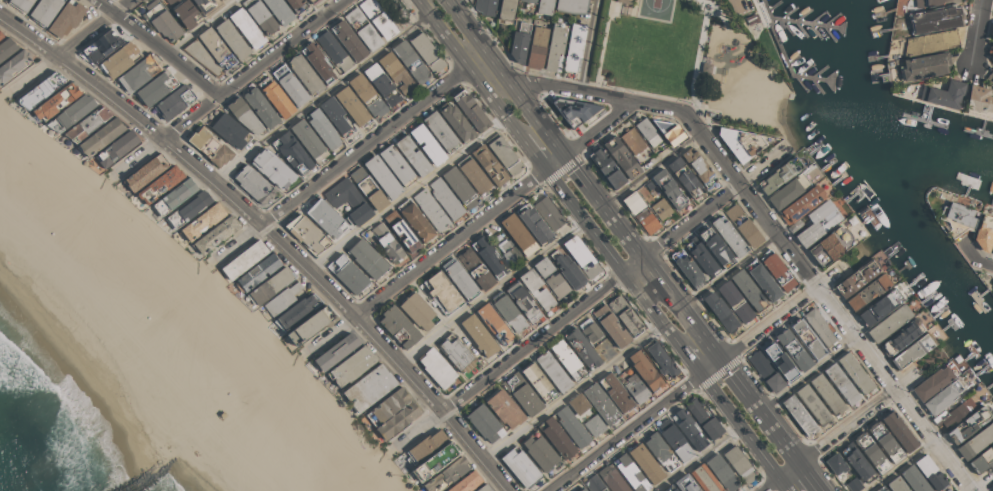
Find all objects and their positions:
building: (5, 0)
building: (311, 1)
building: (625, 1)
building: (930, 3)
building: (20, 4)
building: (529, 4)
building: (203, 5)
building: (297, 5)
building: (571, 6)
building: (486, 7)
building: (544, 7)
park: (656, 8)
building: (279, 10)
building: (506, 10)
building: (44, 11)
road: (624, 11)
building: (185, 12)
building: (260, 15)
building: (66, 18)
building: (378, 18)
road: (656, 19)
building: (751, 19)
building: (935, 19)
building: (162, 20)
road: (94, 27)
road: (201, 27)
building: (246, 27)
building: (362, 28)
building: (991, 32)
road: (445, 33)
road: (973, 33)
building: (1, 34)
building: (232, 39)
building: (348, 40)
building: (519, 41)
building: (930, 42)
road: (588, 45)
building: (100, 46)
building: (6, 47)
road: (159, 47)
building: (536, 47)
building: (555, 47)
building: (574, 47)
building: (216, 48)
building: (333, 50)
park: (673, 51)
building: (990, 51)
building: (427, 52)
pier: (790, 52)
building: (201, 56)
building: (119, 59)
road: (480, 60)
building: (317, 61)
building: (411, 61)
building: (13, 64)
building: (923, 66)
road: (723, 69)
road: (254, 70)
building: (396, 72)
road: (81, 73)
building: (138, 73)
building: (304, 73)
road: (37, 74)
road: (506, 77)
building: (990, 77)
road: (588, 81)
building: (290, 84)
building: (381, 84)
building: (156, 87)
building: (40, 89)
road: (569, 89)
building: (943, 94)
building: (367, 95)
road: (658, 95)
building: (276, 96)
road: (323, 96)
building: (56, 100)
building: (174, 101)
building: (979, 101)
road: (494, 102)
building: (352, 106)
building: (261, 107)
building: (471, 110)
building: (573, 110)
building: (71, 112)
building: (244, 115)
building: (335, 115)
building: (456, 121)
building: (87, 124)
road: (596, 127)
building: (229, 129)
building: (323, 129)
building: (440, 131)
building: (670, 131)
building: (647, 132)
building: (101, 136)
building: (309, 140)
building: (632, 140)
building: (742, 142)
building: (427, 144)
building: (210, 146)
road: (367, 146)
building: (117, 148)
building: (292, 152)
road: (533, 152)
road: (138, 154)
building: (412, 155)
building: (505, 155)
building: (621, 156)
road: (554, 162)
building: (489, 164)
building: (397, 165)
building: (606, 166)
building: (699, 167)
building: (273, 168)
road: (652, 171)
building: (146, 172)
building: (474, 175)
building: (779, 175)
building: (382, 176)
building: (685, 177)
building: (160, 184)
building: (254, 184)
building: (460, 187)
building: (368, 188)
building: (668, 188)
building: (787, 191)
building: (343, 193)
building: (648, 193)
road: (408, 194)
building: (174, 196)
building: (446, 198)
building: (632, 202)
building: (801, 204)
road: (604, 206)
building: (187, 208)
building: (660, 208)
building: (430, 209)
building: (548, 212)
building: (359, 214)
building: (326, 218)
building: (958, 218)
building: (415, 220)
building: (646, 220)
building: (202, 221)
building: (818, 222)
building: (534, 224)
building: (743, 225)
building: (795, 225)
building: (401, 230)
building: (984, 232)
building: (307, 233)
building: (215, 234)
building: (518, 234)
building: (729, 235)
building: (387, 242)
road: (239, 243)
road: (450, 243)
building: (830, 245)
building: (715, 247)
building: (510, 253)
building: (992, 253)
building: (489, 256)
building: (581, 256)
road: (614, 257)
building: (701, 257)
building: (367, 258)
road: (979, 258)
building: (244, 259)
building: (543, 266)
building: (475, 268)
building: (686, 268)
building: (568, 269)
road: (652, 269)
building: (777, 270)
building: (258, 271)
road: (729, 273)
building: (347, 274)
building: (857, 277)
building: (460, 279)
road: (810, 279)
building: (762, 280)
building: (992, 282)
building: (556, 284)
building: (270, 285)
building: (531, 289)
building: (748, 289)
building: (868, 291)
building: (442, 292)
road: (492, 292)
building: (992, 292)
building: (281, 299)
road: (591, 299)
building: (523, 301)
building: (734, 301)
road: (343, 304)
building: (879, 306)
building: (296, 311)
building: (418, 311)
building: (720, 311)
building: (508, 312)
building: (625, 315)
road: (689, 319)
building: (889, 322)
building: (493, 323)
building: (310, 325)
building: (398, 326)
building: (610, 326)
building: (818, 326)
building: (590, 329)
building: (478, 335)
road: (328, 336)
building: (901, 336)
building: (807, 338)
building: (582, 348)
building: (793, 349)
building: (913, 350)
building: (336, 351)
building: (456, 352)
building: (776, 356)
building: (660, 359)
building: (568, 360)
road: (692, 360)
building: (352, 365)
building: (436, 367)
building: (765, 370)
building: (553, 371)
building: (645, 371)
building: (855, 372)
road: (807, 374)
building: (934, 381)
building: (538, 382)
building: (841, 383)
building: (369, 387)
building: (635, 388)
road: (682, 389)
road: (573, 392)
building: (615, 392)
building: (522, 393)
building: (827, 394)
building: (942, 397)
building: (578, 403)
building: (600, 403)
building: (812, 404)
building: (388, 406)
building: (503, 407)
road: (759, 411)
building: (953, 413)
building: (799, 414)
building: (398, 419)
building: (703, 419)
building: (485, 423)
building: (968, 424)
building: (572, 425)
building: (594, 425)
building: (688, 428)
building: (899, 430)
road: (419, 432)
road: (745, 432)
building: (556, 437)
building: (674, 439)
road: (827, 440)
building: (885, 441)
building: (976, 441)
building: (424, 446)
building: (539, 451)
building: (660, 451)
building: (871, 452)
road: (699, 458)
building: (982, 459)
building: (434, 461)
building: (645, 462)
building: (739, 463)
building: (835, 463)
building: (858, 464)
building: (519, 466)
road: (899, 466)
building: (722, 472)
building: (930, 472)
building: (631, 473)
building: (447, 474)
road: (809, 475)
building: (612, 478)
building: (704, 478)
building: (914, 479)
building: (466, 482)
building: (594, 483)
building: (685, 483)
building: (854, 484)
building: (896, 484)
building: (483, 488)
building: (670, 488)
building: (881, 488)
building: (582, 489)
road: (819, 489)
road: (970, 490)
building: (992, 490)

